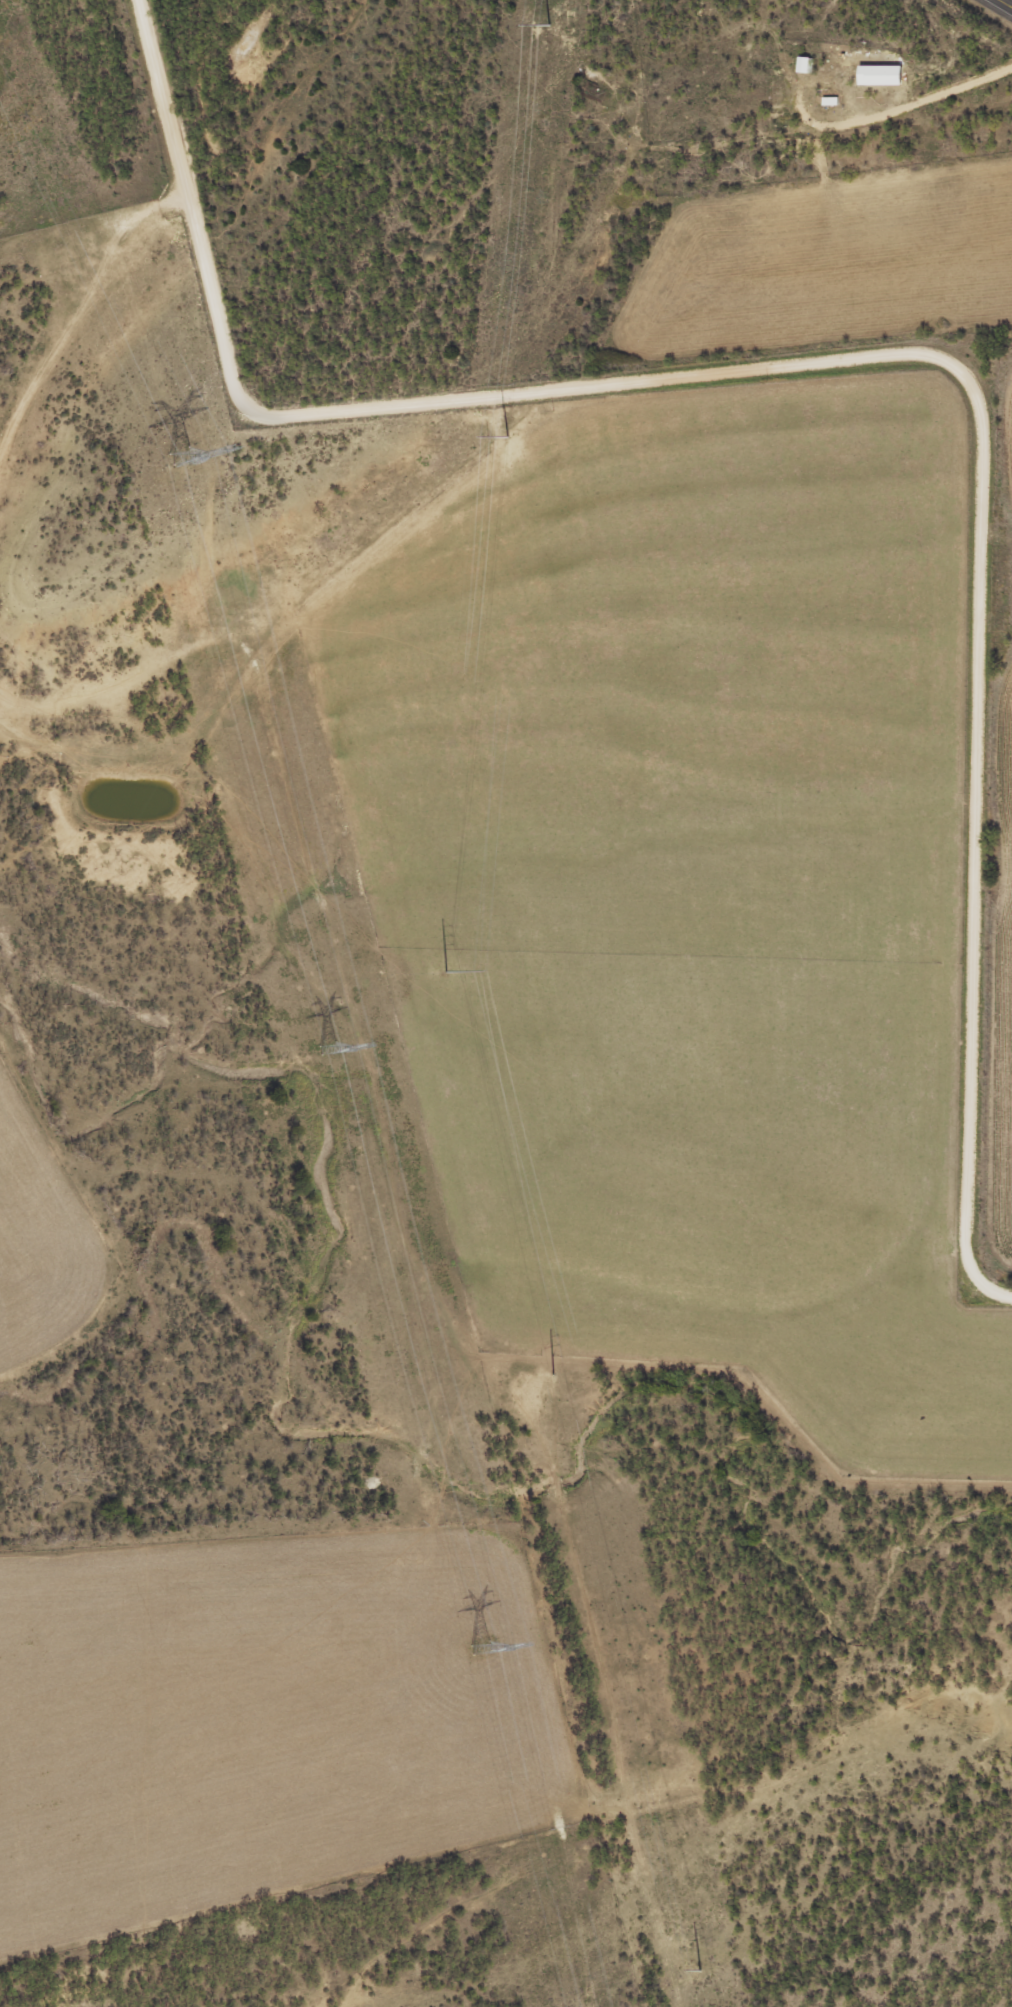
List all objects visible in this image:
road: (1002, 5)
power tower: (548, 27)
road: (844, 375)
power tower: (508, 438)
power tower: (180, 454)
power tower: (446, 973)
power tower: (329, 1046)
road: (991, 1278)
power tower: (554, 1376)
power tower: (480, 1645)
power tower: (701, 1972)

